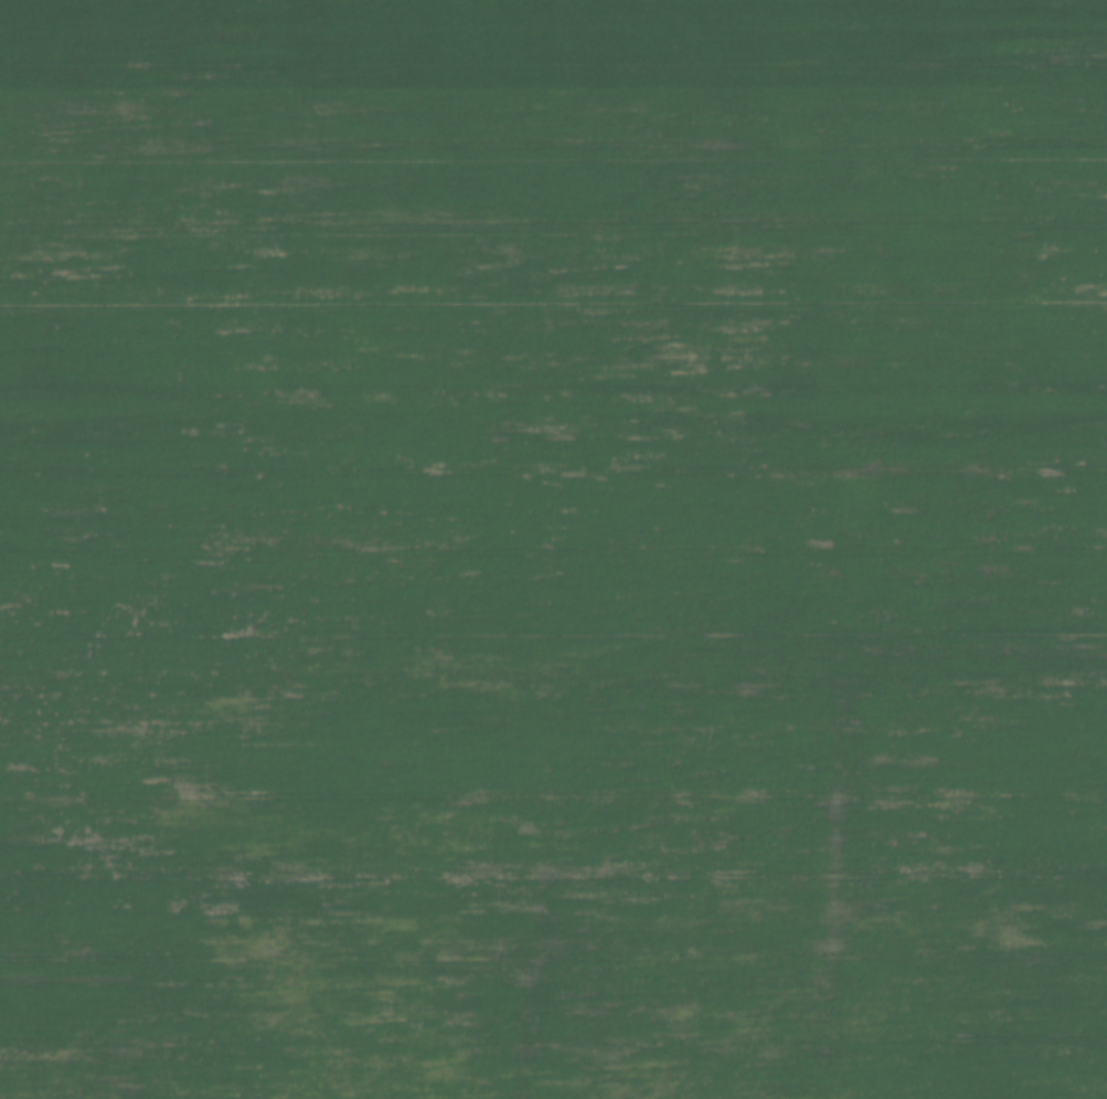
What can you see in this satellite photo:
crop: (553, 549)

